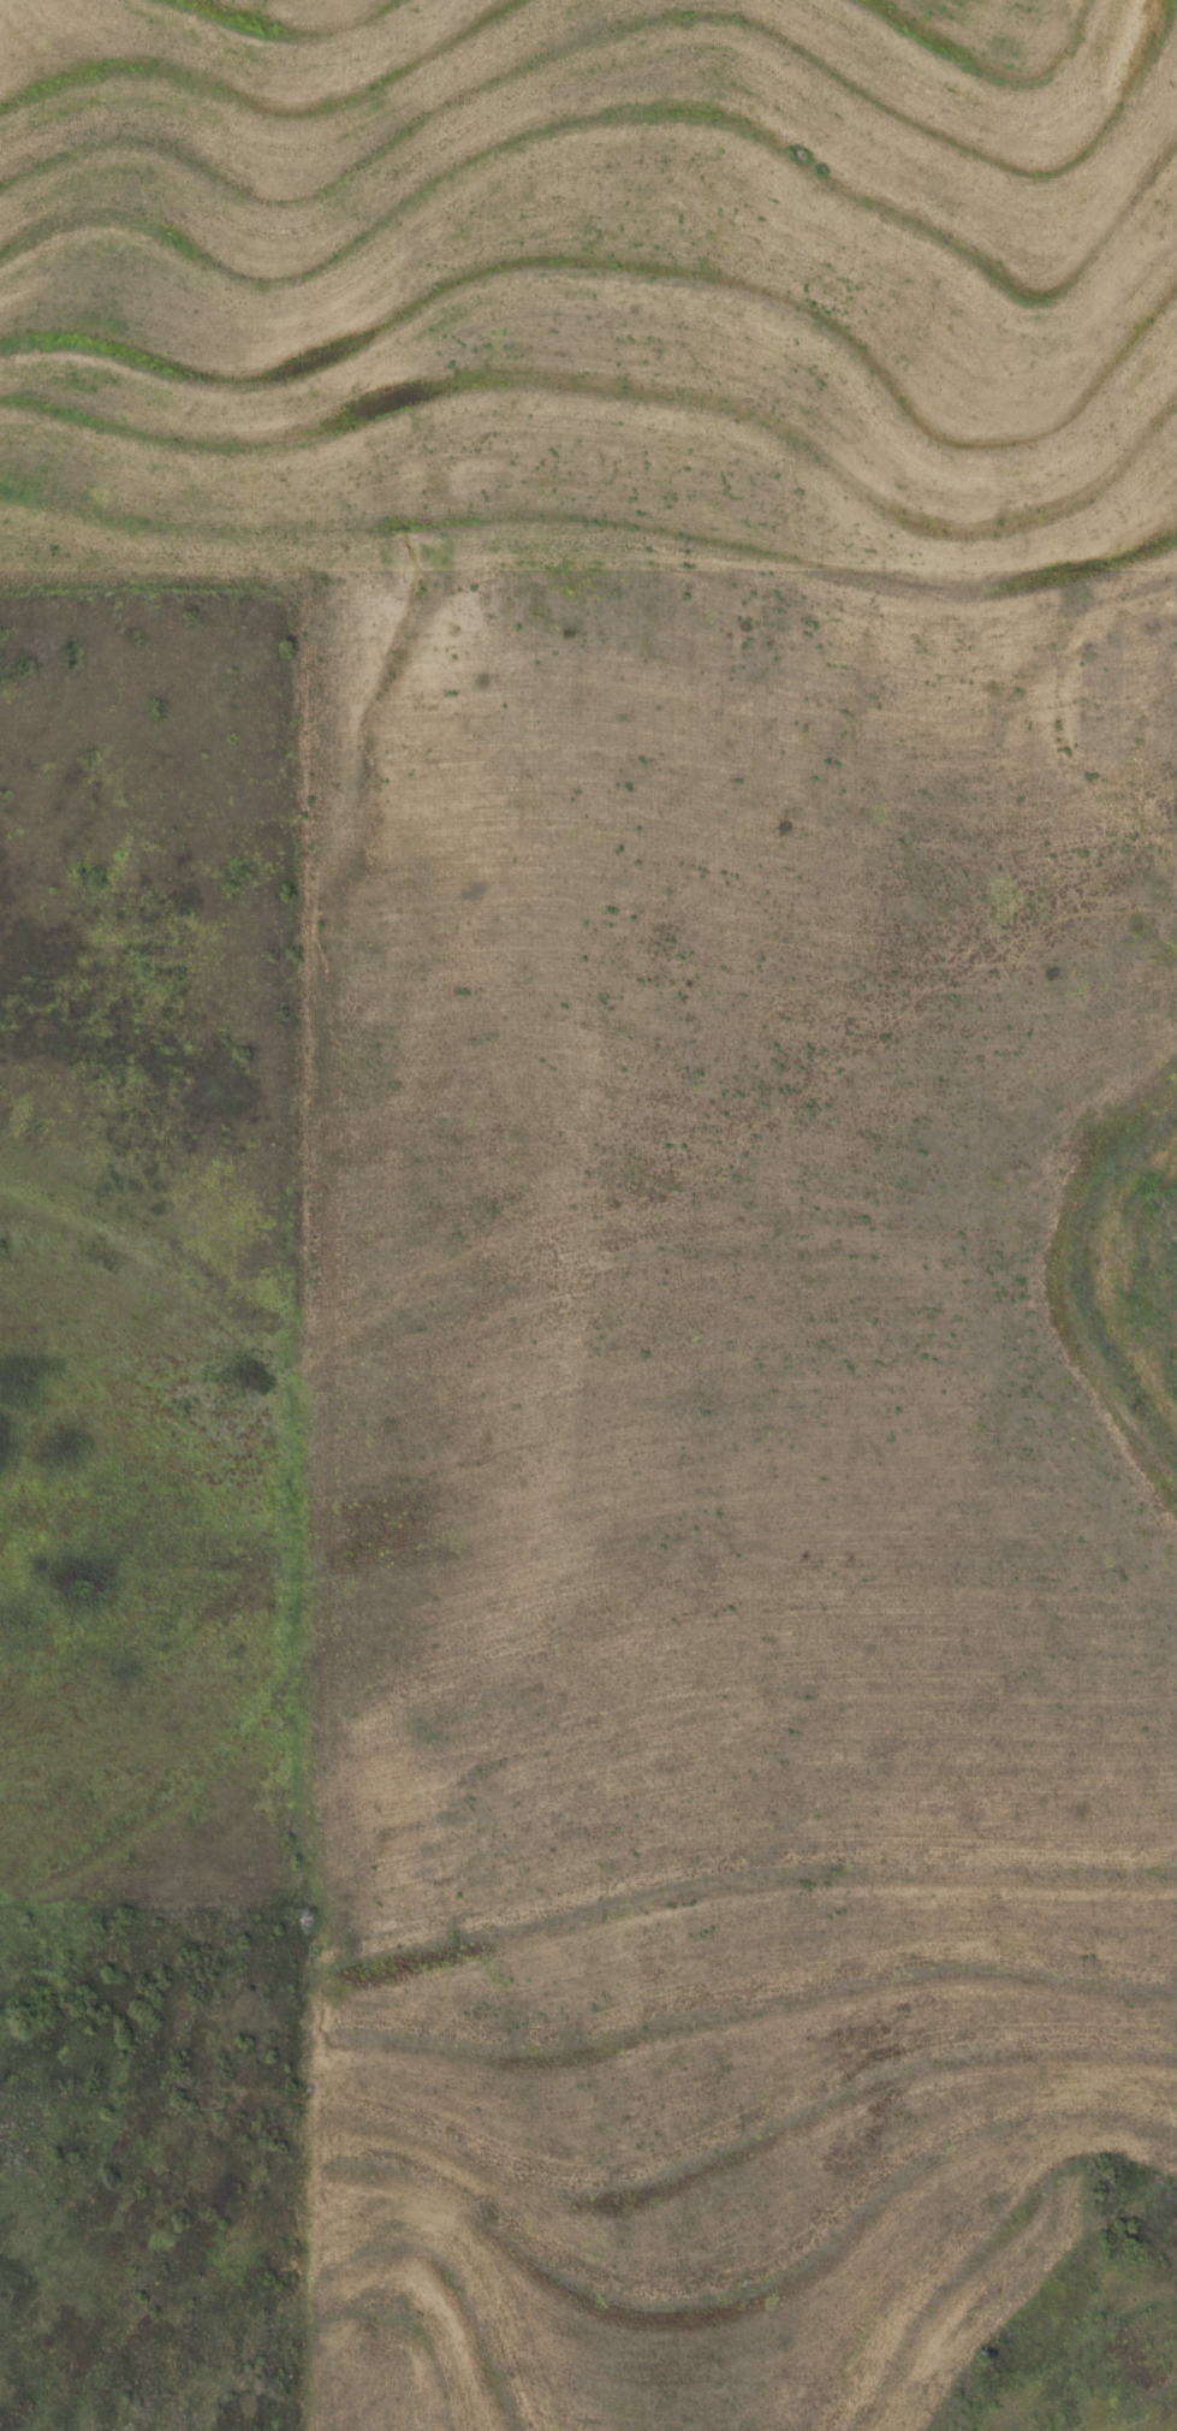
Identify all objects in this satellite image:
road: (1089, 1270)

